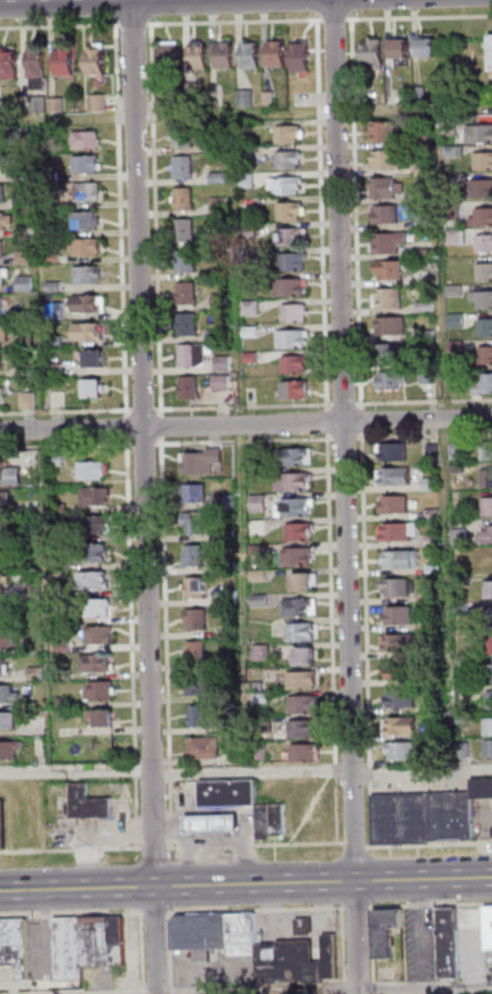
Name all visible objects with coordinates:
road: (119, 3)
road: (330, 9)
road: (130, 12)
road: (416, 17)
road: (330, 19)
road: (231, 21)
road: (130, 25)
road: (58, 26)
building: (421, 48)
building: (396, 52)
building: (369, 53)
building: (165, 54)
building: (272, 54)
building: (488, 54)
building: (194, 55)
building: (220, 55)
building: (246, 55)
building: (296, 57)
building: (92, 62)
building: (61, 63)
building: (6, 65)
building: (32, 69)
building: (188, 92)
building: (416, 94)
building: (241, 99)
building: (265, 99)
building: (401, 99)
building: (94, 103)
building: (162, 103)
building: (35, 104)
building: (52, 105)
building: (0, 107)
building: (242, 126)
building: (446, 126)
building: (10, 132)
building: (378, 132)
building: (284, 134)
building: (477, 134)
building: (45, 136)
building: (180, 136)
building: (82, 140)
building: (417, 140)
building: (213, 147)
building: (449, 151)
building: (243, 154)
building: (284, 160)
building: (383, 160)
building: (481, 161)
building: (83, 164)
building: (0, 168)
building: (180, 168)
building: (420, 169)
building: (18, 175)
building: (46, 176)
building: (214, 178)
building: (449, 179)
building: (243, 181)
building: (282, 186)
building: (382, 188)
building: (476, 188)
building: (84, 192)
building: (0, 193)
building: (421, 196)
building: (180, 199)
building: (19, 202)
building: (216, 206)
building: (285, 211)
building: (450, 211)
road: (352, 213)
road: (318, 215)
building: (382, 215)
building: (480, 218)
road: (152, 220)
building: (4, 221)
building: (81, 221)
road: (117, 221)
building: (421, 222)
building: (181, 230)
building: (245, 231)
building: (21, 232)
building: (286, 237)
building: (451, 238)
building: (385, 242)
building: (482, 244)
building: (82, 247)
building: (1, 248)
building: (32, 250)
building: (422, 253)
building: (246, 255)
building: (21, 258)
building: (49, 258)
building: (181, 261)
building: (289, 263)
building: (386, 270)
building: (3, 273)
building: (482, 273)
building: (83, 276)
building: (21, 284)
building: (49, 287)
building: (286, 288)
building: (451, 291)
building: (183, 294)
building: (385, 299)
building: (480, 300)
building: (216, 301)
building: (0, 304)
building: (85, 305)
building: (421, 307)
building: (247, 308)
building: (52, 312)
building: (291, 314)
building: (22, 316)
building: (452, 321)
building: (184, 325)
building: (387, 326)
building: (483, 328)
building: (247, 331)
building: (83, 332)
building: (2, 334)
building: (211, 335)
building: (423, 335)
building: (287, 340)
building: (51, 342)
building: (23, 343)
building: (453, 349)
building: (384, 354)
building: (190, 355)
building: (484, 355)
building: (247, 357)
building: (91, 359)
building: (0, 360)
building: (424, 361)
building: (219, 364)
building: (290, 365)
building: (52, 369)
building: (23, 370)
building: (424, 377)
building: (387, 381)
building: (218, 383)
building: (480, 385)
building: (89, 388)
building: (185, 388)
building: (1, 390)
building: (291, 390)
road: (469, 400)
building: (25, 401)
road: (440, 401)
road: (392, 402)
road: (339, 404)
road: (286, 405)
road: (236, 406)
road: (189, 407)
road: (139, 409)
road: (87, 410)
road: (39, 412)
road: (16, 413)
road: (357, 420)
road: (323, 421)
road: (246, 425)
road: (157, 427)
road: (123, 428)
road: (469, 434)
road: (440, 435)
road: (392, 437)
road: (341, 439)
road: (286, 440)
road: (236, 442)
road: (190, 443)
road: (141, 445)
road: (65, 446)
building: (485, 451)
building: (389, 452)
building: (429, 452)
building: (452, 452)
building: (250, 455)
building: (289, 457)
building: (54, 460)
building: (198, 462)
building: (454, 469)
building: (88, 472)
building: (8, 475)
building: (390, 477)
building: (485, 479)
building: (288, 482)
building: (427, 484)
building: (190, 493)
building: (92, 496)
building: (3, 501)
building: (223, 501)
building: (254, 504)
building: (29, 505)
building: (390, 505)
road: (344, 506)
building: (485, 506)
building: (291, 508)
building: (55, 509)
road: (143, 509)
building: (428, 514)
building: (190, 523)
building: (92, 525)
building: (2, 527)
building: (253, 528)
building: (296, 532)
building: (393, 532)
building: (57, 535)
building: (224, 535)
building: (485, 536)
building: (457, 537)
building: (429, 540)
building: (253, 550)
building: (90, 553)
building: (2, 554)
building: (190, 555)
building: (293, 557)
building: (396, 559)
building: (487, 560)
building: (58, 564)
building: (224, 566)
building: (430, 569)
building: (254, 576)
building: (461, 577)
building: (90, 581)
building: (299, 584)
building: (0, 587)
building: (394, 587)
building: (192, 588)
building: (31, 590)
building: (487, 590)
building: (58, 591)
building: (226, 597)
building: (255, 601)
building: (458, 607)
building: (94, 608)
building: (294, 608)
building: (395, 615)
building: (487, 617)
building: (59, 619)
building: (193, 620)
building: (430, 623)
building: (226, 631)
building: (297, 633)
building: (96, 635)
road: (329, 638)
building: (5, 640)
road: (363, 641)
road: (162, 642)
building: (394, 643)
road: (129, 644)
building: (487, 645)
building: (59, 647)
building: (432, 648)
building: (192, 652)
building: (257, 652)
building: (301, 657)
building: (92, 664)
building: (1, 668)
building: (397, 671)
building: (31, 673)
building: (61, 675)
building: (433, 679)
building: (297, 681)
building: (193, 684)
building: (96, 692)
building: (6, 695)
building: (258, 698)
building: (396, 698)
building: (488, 700)
building: (61, 703)
building: (300, 705)
building: (433, 706)
building: (60, 714)
building: (195, 717)
building: (98, 718)
building: (463, 718)
building: (5, 721)
building: (402, 725)
building: (302, 727)
building: (489, 727)
building: (441, 732)
building: (203, 747)
building: (11, 748)
building: (490, 748)
building: (468, 750)
building: (404, 751)
building: (301, 752)
building: (439, 753)
road: (77, 771)
road: (255, 772)
road: (424, 772)
building: (483, 788)
building: (232, 791)
building: (92, 802)
building: (454, 816)
building: (275, 819)
building: (405, 819)
building: (4, 822)
building: (215, 822)
road: (221, 837)
road: (257, 844)
road: (357, 844)
road: (430, 845)
road: (156, 847)
road: (72, 850)
road: (192, 861)
road: (246, 884)
road: (431, 905)
road: (359, 907)
road: (258, 910)
road: (157, 913)
road: (73, 915)
building: (474, 919)
road: (300, 925)
building: (307, 925)
building: (490, 926)
building: (388, 931)
road: (423, 932)
building: (218, 933)
building: (120, 940)
building: (100, 942)
building: (452, 943)
building: (16, 944)
parking lot: (424, 944)
building: (72, 948)
road: (375, 950)
road: (346, 951)
road: (144, 953)
road: (174, 953)
building: (298, 961)
road: (318, 988)
building: (441, 993)

